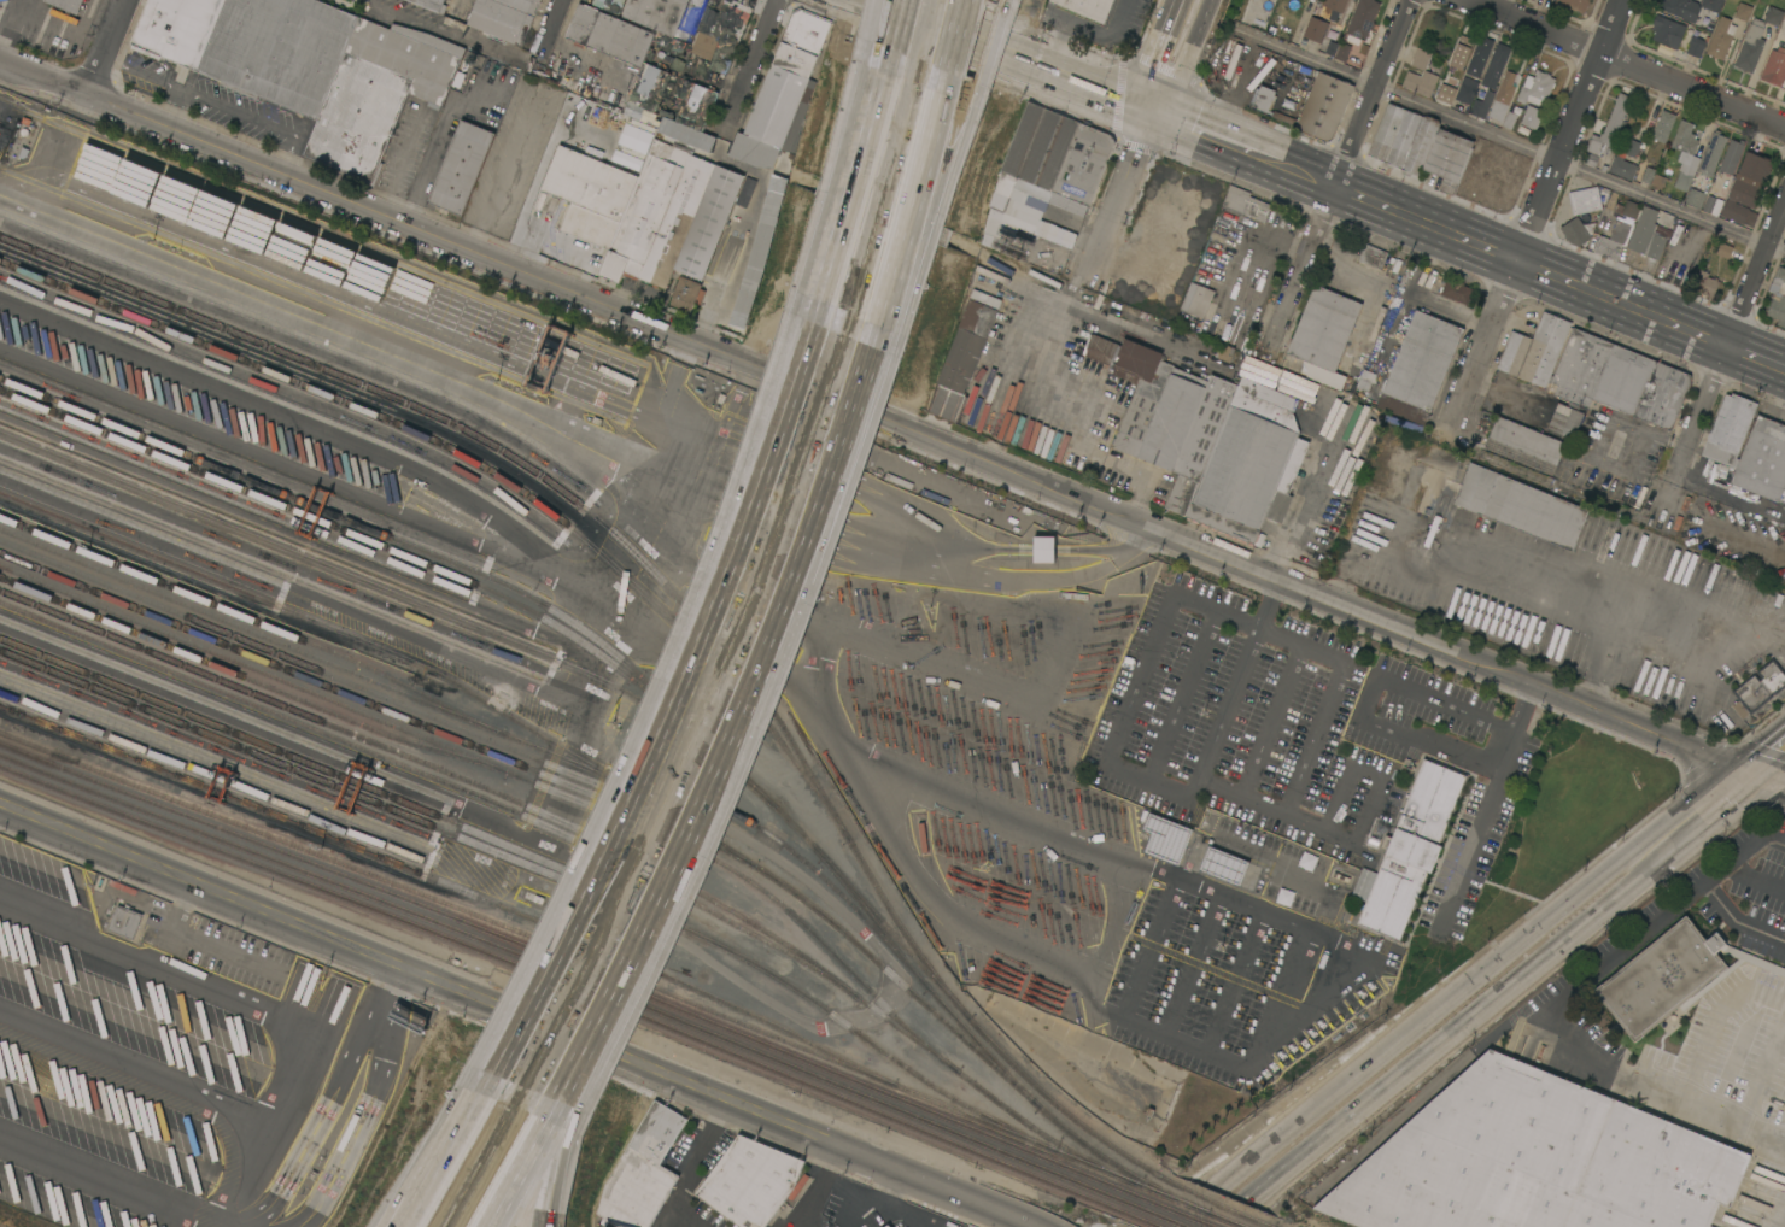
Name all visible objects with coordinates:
road: (991, 0)
building: (748, 2)
building: (429, 4)
building: (522, 4)
building: (608, 4)
building: (1574, 4)
building: (68, 5)
building: (1711, 5)
building: (1087, 7)
building: (1333, 8)
building: (1681, 8)
building: (463, 11)
road: (900, 11)
building: (1743, 11)
building: (656, 14)
building: (692, 14)
building: (1773, 16)
building: (1362, 18)
building: (499, 19)
road: (889, 20)
road: (8, 22)
road: (550, 23)
road: (911, 27)
building: (1316, 29)
building: (1667, 30)
road: (1087, 31)
building: (609, 34)
building: (704, 36)
road: (954, 36)
road: (979, 37)
building: (1721, 37)
road: (1394, 43)
building: (252, 45)
building: (1751, 45)
building: (1325, 46)
building: (1695, 46)
road: (105, 47)
road: (987, 47)
building: (1341, 51)
building: (1459, 52)
road: (1157, 54)
building: (1479, 55)
road: (1310, 58)
road: (1187, 60)
road: (1628, 61)
building: (1496, 65)
building: (1774, 67)
road: (751, 69)
building: (1427, 72)
building: (458, 78)
building: (788, 82)
building: (1535, 88)
building: (1467, 89)
road: (1099, 93)
building: (378, 94)
building: (1503, 96)
building: (1268, 102)
building: (1481, 102)
building: (1323, 107)
traffic signals: (1151, 113)
building: (1532, 116)
building: (1509, 121)
building: (1610, 125)
building: (1663, 125)
road: (871, 131)
building: (660, 134)
road: (1356, 135)
road: (880, 137)
building: (1403, 137)
road: (435, 141)
building: (1038, 145)
road: (1243, 148)
building: (1711, 153)
road: (920, 154)
building: (1685, 154)
road: (931, 155)
building: (1731, 155)
building: (1447, 158)
road: (545, 159)
building: (1625, 160)
building: (1083, 163)
building: (461, 166)
building: (1755, 166)
road: (1580, 168)
building: (1646, 177)
building: (1657, 181)
road: (497, 183)
building: (589, 194)
road: (1116, 195)
building: (1235, 198)
building: (1695, 198)
building: (1585, 200)
building: (1740, 202)
building: (1713, 205)
building: (1629, 207)
building: (1025, 209)
building: (1256, 210)
building: (657, 215)
road: (1535, 218)
building: (708, 222)
building: (1666, 223)
building: (1643, 229)
building: (1578, 230)
building: (1611, 237)
road: (557, 240)
building: (995, 241)
building: (1655, 245)
building: (1723, 249)
building: (1373, 256)
road: (1300, 268)
road: (842, 272)
road: (1559, 277)
building: (1705, 283)
building: (1028, 287)
road: (882, 288)
road: (546, 289)
building: (1456, 290)
building: (686, 293)
building: (1778, 297)
building: (1196, 299)
building: (1323, 327)
road: (1731, 336)
building: (1100, 348)
building: (1534, 350)
building: (964, 352)
building: (1227, 353)
building: (1420, 366)
building: (1619, 378)
building: (1365, 380)
building: (1170, 417)
building: (1564, 419)
building: (1728, 428)
building: (1526, 439)
building: (1521, 456)
building: (1762, 459)
railway: (479, 460)
building: (1249, 464)
building: (1520, 505)
railway: (356, 522)
road: (1751, 541)
road: (1177, 542)
road: (1474, 546)
building: (1043, 550)
railway: (672, 588)
railway: (394, 592)
road: (1623, 598)
road: (1265, 605)
railway: (252, 618)
road: (751, 627)
railway: (304, 651)
road: (1342, 661)
railway: (251, 677)
road: (1504, 677)
railway: (642, 687)
road: (1135, 687)
building: (1758, 687)
railway: (375, 692)
railway: (350, 694)
road: (1181, 695)
road: (1366, 698)
road: (684, 710)
road: (1270, 718)
road: (722, 724)
railway: (548, 740)
road: (1769, 767)
railway: (438, 769)
railway: (397, 774)
railway: (343, 777)
traffic signals: (1754, 780)
road: (1769, 786)
road: (1369, 797)
railway: (494, 806)
road: (1480, 809)
railway: (609, 812)
road: (1009, 812)
road: (1692, 827)
railway: (624, 830)
building: (1165, 838)
building: (1409, 851)
building: (1224, 864)
railway: (538, 868)
railway: (452, 885)
road: (1262, 910)
road: (1661, 918)
building: (124, 921)
railway: (895, 933)
railway: (334, 943)
road: (1143, 945)
railway: (561, 946)
railway: (570, 962)
road: (1189, 963)
railway: (567, 974)
building: (1660, 978)
road: (1231, 980)
railway: (562, 984)
road: (1286, 988)
road: (515, 1016)
road: (1410, 1047)
road: (572, 1065)
road: (137, 1067)
road: (291, 1084)
road: (497, 1090)
road: (368, 1103)
road: (315, 1123)
railway: (850, 1155)
building: (1535, 1161)
road: (513, 1162)
road: (538, 1162)
road: (446, 1163)
road: (455, 1163)
road: (687, 1169)
building: (642, 1170)
building: (750, 1181)
road: (810, 1186)
road: (866, 1190)
railway: (1170, 1193)
railway: (1215, 1200)
railway: (1195, 1207)
railway: (1177, 1210)
road: (909, 1213)
railway: (1161, 1215)
railway: (19, 1219)
road: (204, 1219)
railway: (1143, 1219)
road: (794, 1223)
railway: (4, 1225)
building: (884, 1226)
building: (886, 1226)

